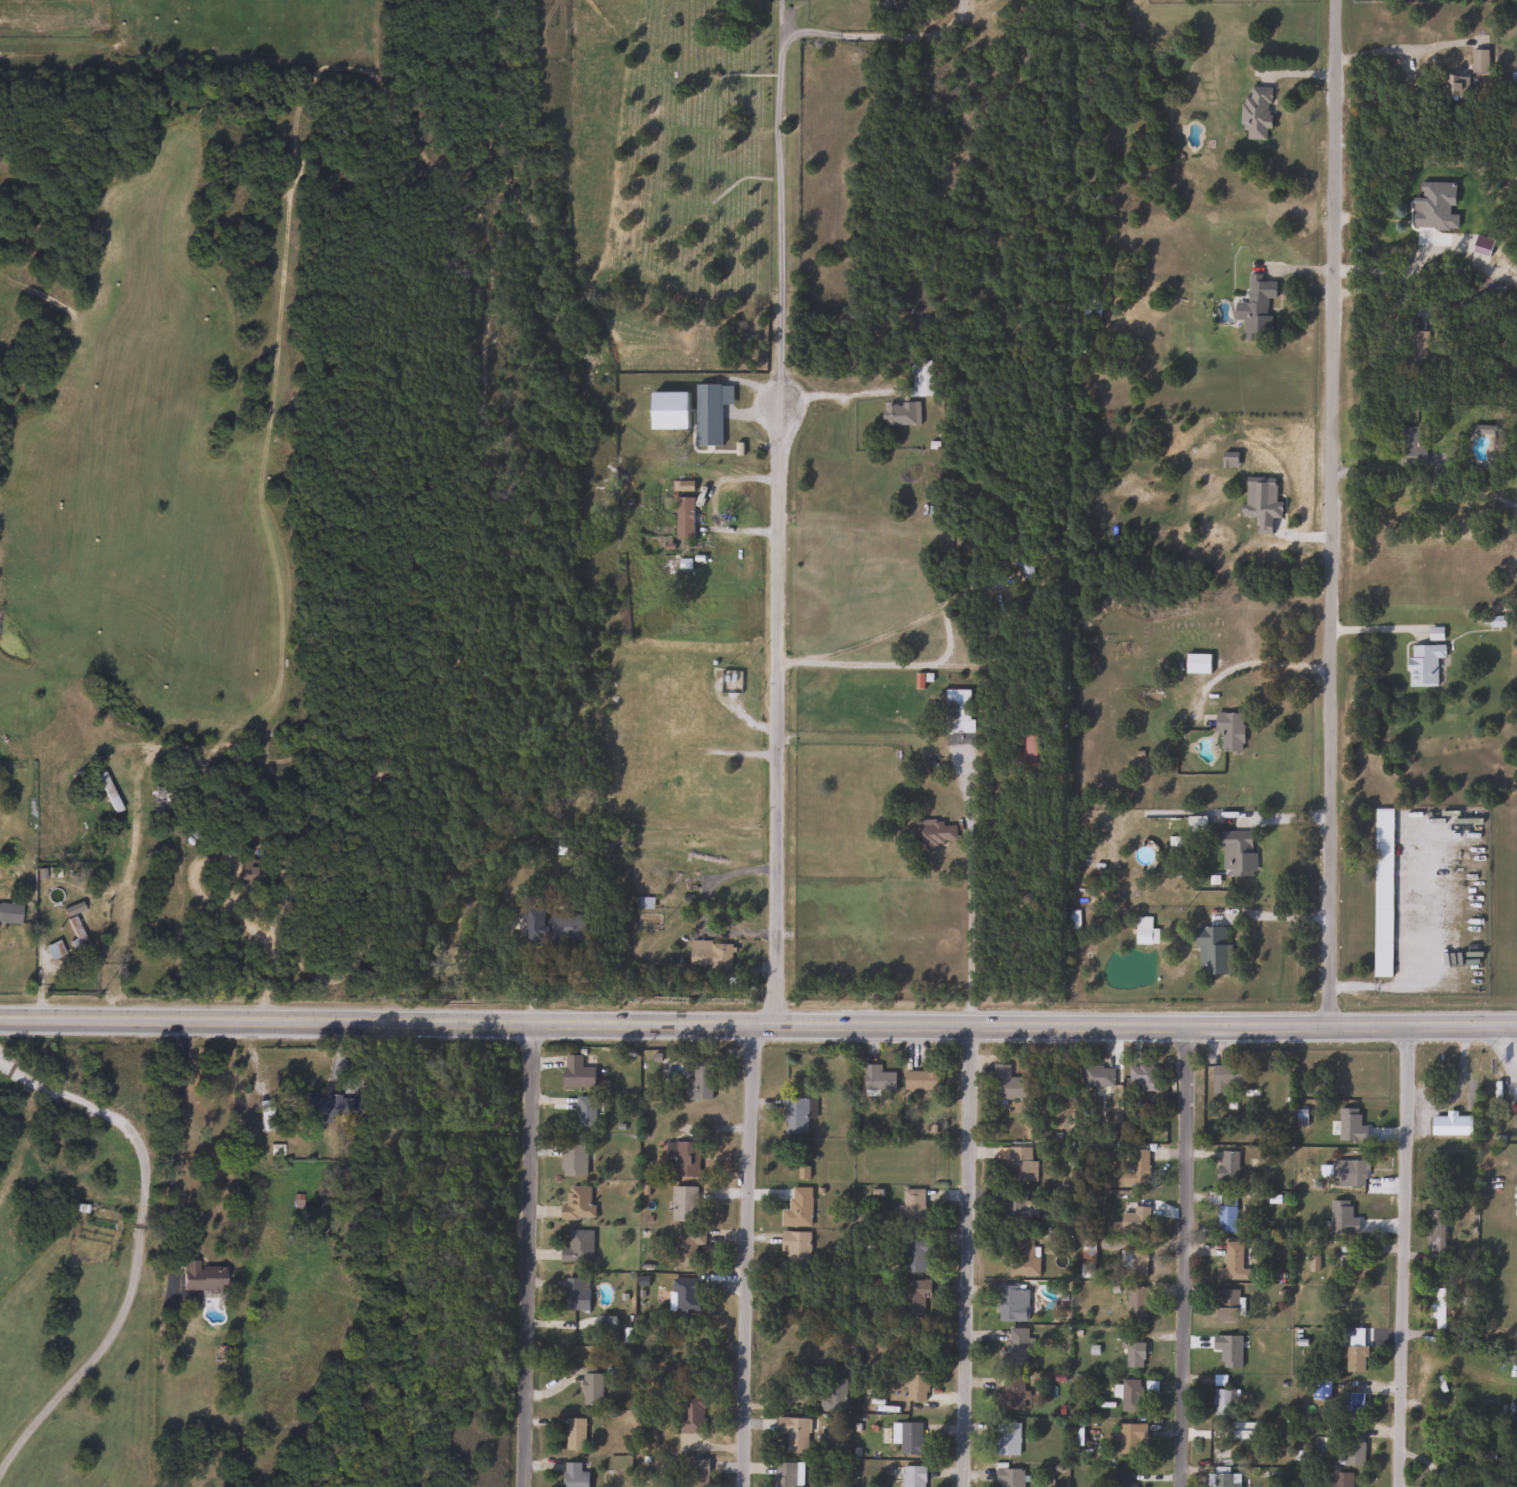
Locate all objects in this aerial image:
road: (880, 35)
road: (1398, 48)
building: (1477, 61)
building: (1451, 86)
building: (1255, 113)
road: (1382, 290)
building: (1256, 306)
building: (1089, 310)
building: (1416, 347)
building: (918, 377)
road: (837, 391)
building: (708, 411)
building: (899, 413)
building: (1407, 447)
building: (1516, 478)
road: (1332, 511)
road: (778, 512)
building: (684, 517)
building: (1024, 554)
road: (1250, 661)
building: (1196, 663)
building: (1422, 664)
road: (915, 665)
building: (956, 711)
building: (1228, 730)
building: (1024, 745)
building: (677, 771)
building: (160, 794)
road: (982, 825)
building: (933, 833)
building: (1235, 853)
building: (1381, 892)
road: (701, 906)
building: (9, 913)
road: (1279, 915)
building: (1072, 920)
building: (71, 923)
building: (563, 926)
building: (1143, 931)
building: (1211, 951)
building: (709, 955)
road: (266, 962)
road: (1389, 985)
road: (758, 1025)
road: (1496, 1048)
building: (575, 1073)
building: (1096, 1076)
building: (877, 1078)
building: (1143, 1079)
building: (699, 1080)
building: (921, 1080)
building: (1225, 1081)
building: (1006, 1085)
building: (328, 1108)
building: (584, 1113)
building: (794, 1116)
building: (1450, 1125)
road: (170, 1143)
building: (572, 1160)
building: (685, 1160)
building: (1020, 1165)
building: (1137, 1165)
building: (1226, 1167)
building: (1346, 1173)
building: (576, 1203)
building: (683, 1204)
building: (797, 1208)
building: (911, 1208)
building: (1020, 1209)
building: (1225, 1216)
building: (1135, 1220)
building: (1434, 1231)
road: (139, 1247)
building: (685, 1247)
building: (793, 1247)
building: (576, 1248)
road: (1402, 1254)
road: (527, 1255)
road: (748, 1255)
road: (966, 1255)
road: (1184, 1255)
building: (914, 1256)
building: (1021, 1257)
building: (1135, 1263)
building: (1231, 1264)
building: (1352, 1267)
building: (200, 1277)
building: (574, 1294)
building: (682, 1295)
building: (912, 1297)
building: (1012, 1303)
building: (1135, 1303)
building: (1226, 1305)
building: (1436, 1309)
building: (1015, 1348)
building: (1133, 1355)
building: (1352, 1358)
building: (590, 1390)
building: (1009, 1394)
building: (831, 1395)
building: (1130, 1396)
building: (1220, 1402)
building: (1351, 1404)
building: (689, 1415)
building: (793, 1433)
building: (573, 1434)
building: (1129, 1438)
building: (911, 1439)
building: (1006, 1439)
building: (1352, 1446)
building: (695, 1474)
building: (787, 1474)
building: (573, 1475)
building: (912, 1476)
building: (1007, 1477)
building: (1221, 1477)
building: (1123, 1479)
building: (1340, 1479)
building: (1487, 1482)

